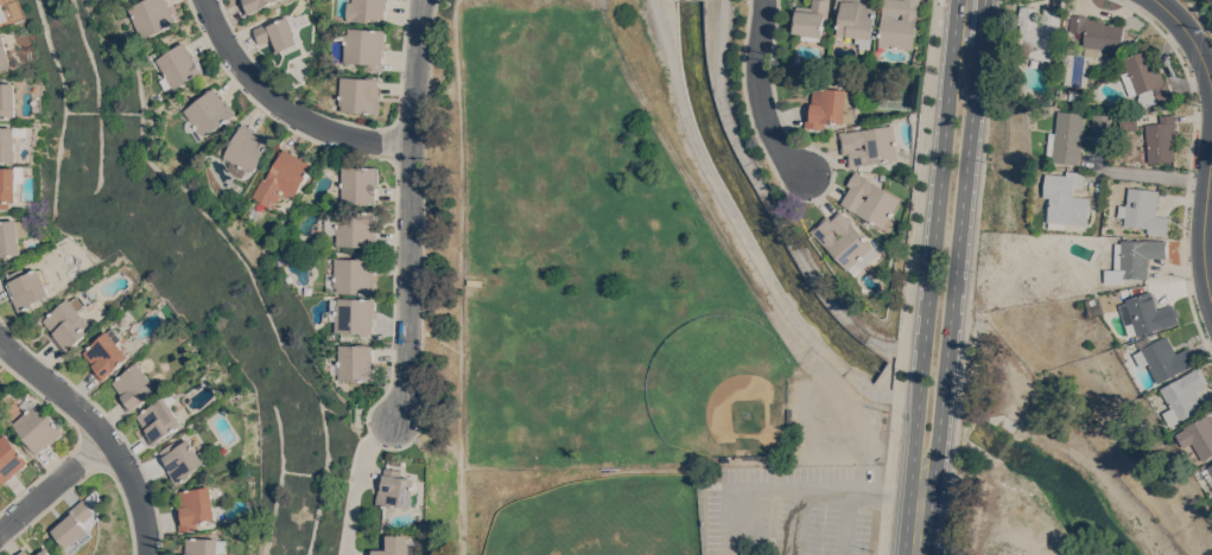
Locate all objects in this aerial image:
building: (256, 5)
building: (366, 9)
building: (4, 12)
building: (152, 15)
road: (1199, 18)
building: (813, 19)
building: (858, 20)
building: (900, 24)
building: (281, 32)
road: (978, 33)
building: (1041, 33)
building: (1096, 34)
building: (366, 46)
building: (7, 55)
building: (178, 64)
building: (1146, 78)
building: (1023, 91)
road: (761, 92)
building: (361, 94)
building: (9, 98)
road: (285, 107)
building: (832, 107)
building: (208, 111)
building: (1103, 121)
building: (1129, 121)
park: (535, 136)
building: (1068, 138)
building: (1162, 139)
building: (11, 142)
road: (1210, 143)
building: (869, 145)
building: (246, 149)
road: (1154, 174)
building: (283, 178)
building: (360, 184)
road: (919, 184)
building: (8, 186)
road: (938, 190)
building: (1068, 199)
building: (871, 200)
road: (978, 202)
road: (772, 208)
building: (1143, 210)
road: (412, 211)
building: (354, 227)
road: (959, 230)
road: (745, 235)
building: (13, 236)
building: (846, 242)
road: (730, 250)
building: (1135, 259)
building: (353, 275)
road: (459, 276)
building: (31, 288)
building: (1148, 313)
building: (353, 314)
park: (610, 317)
building: (69, 323)
building: (107, 353)
building: (1166, 358)
building: (354, 363)
park: (588, 371)
road: (897, 382)
building: (138, 384)
park: (722, 389)
road: (918, 394)
building: (1186, 395)
road: (941, 408)
building: (789, 416)
road: (957, 417)
building: (160, 420)
building: (37, 427)
road: (99, 432)
building: (1200, 435)
road: (914, 442)
road: (934, 451)
building: (751, 457)
building: (11, 459)
building: (184, 459)
building: (1211, 466)
building: (1207, 473)
road: (888, 474)
road: (355, 481)
road: (53, 485)
building: (399, 490)
road: (742, 490)
road: (851, 490)
road: (948, 493)
road: (801, 498)
building: (197, 508)
parking lot: (792, 508)
road: (918, 516)
park: (603, 517)
building: (75, 525)
building: (400, 544)
building: (208, 546)
building: (46, 551)
building: (753, 551)
building: (25, 553)

